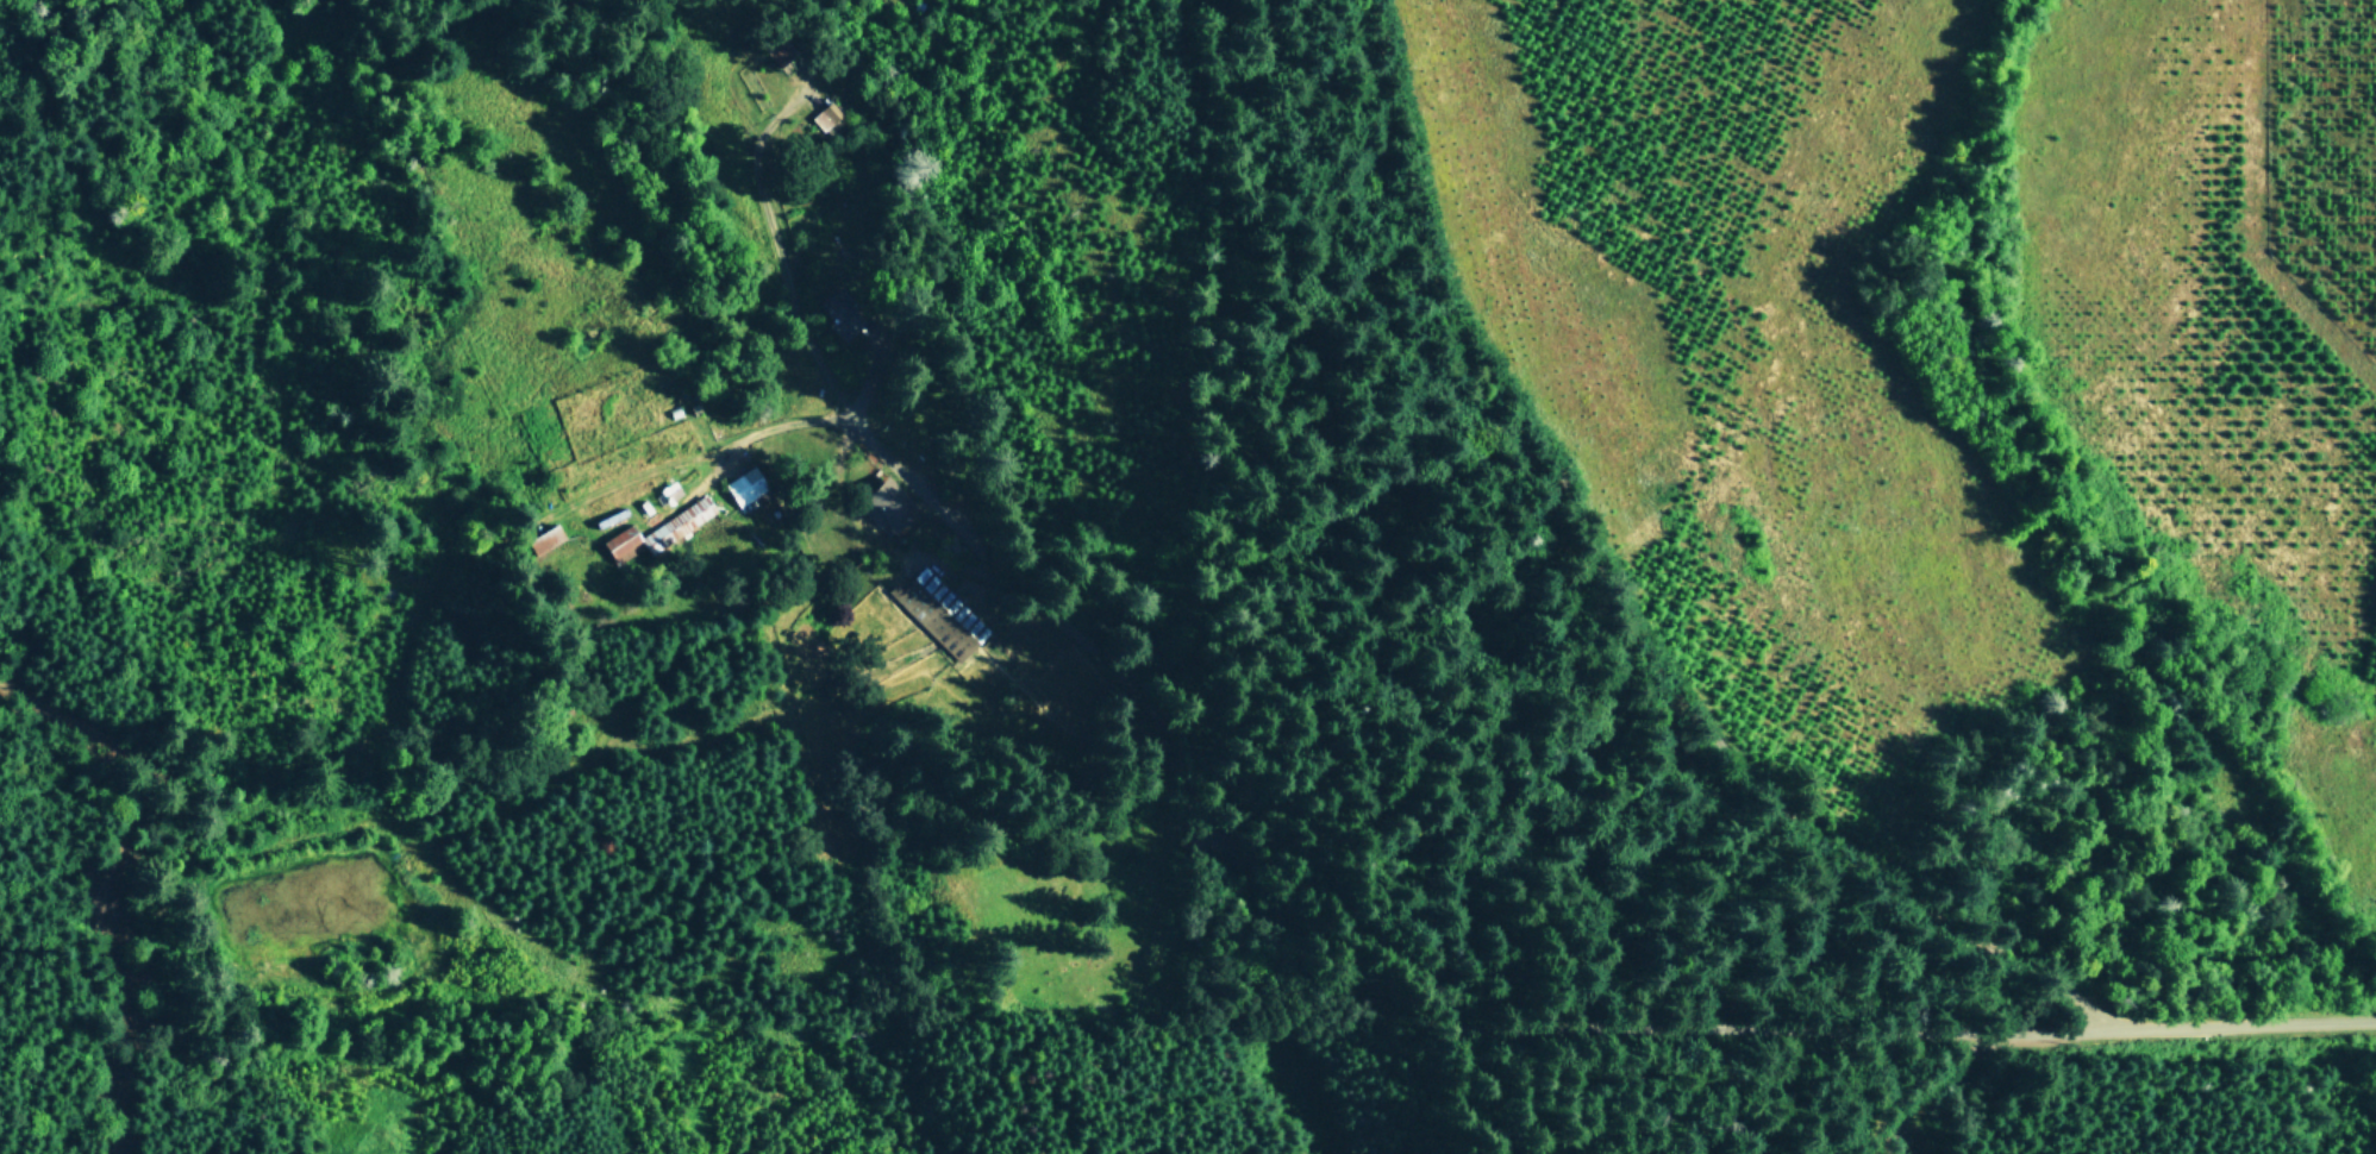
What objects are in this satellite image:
building: (779, 51)
building: (839, 313)
building: (744, 485)
building: (887, 506)
building: (545, 539)
road: (908, 560)
road: (1634, 596)
building: (940, 614)
road: (1026, 736)
road: (2241, 1024)
road: (1901, 1097)

